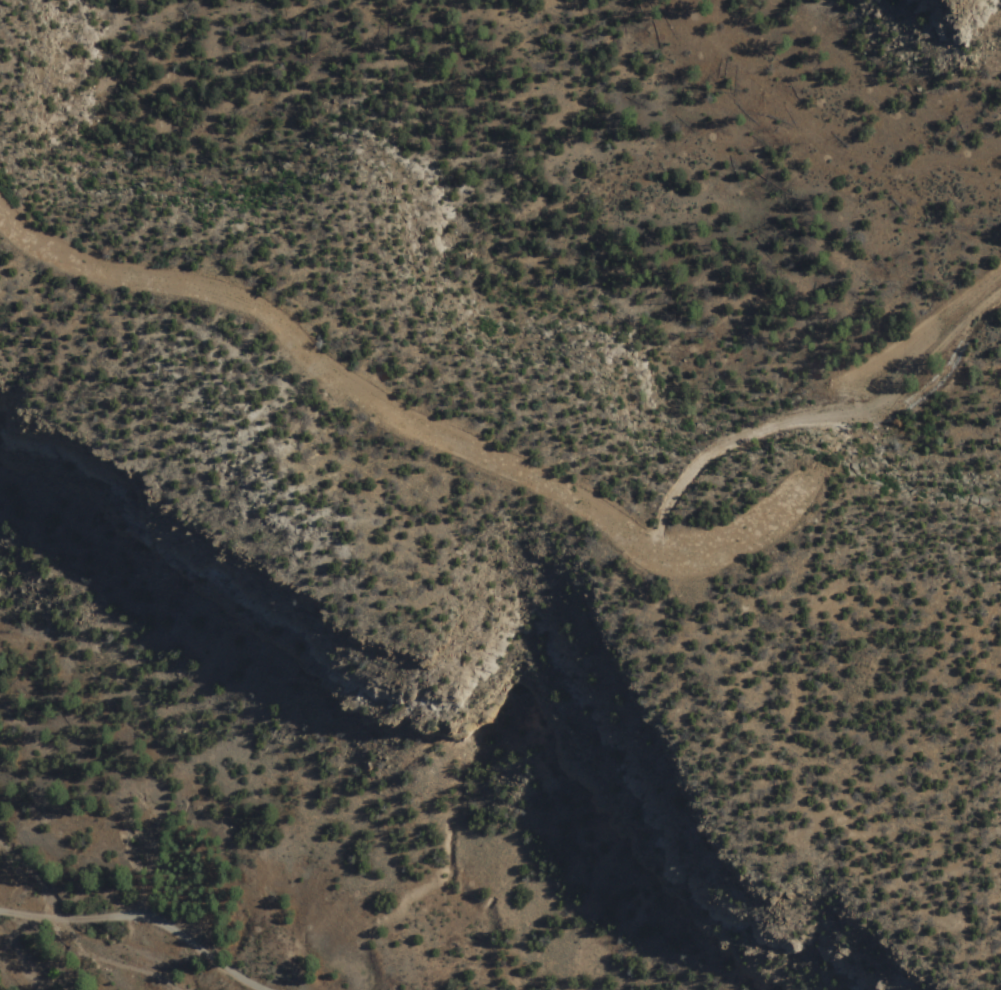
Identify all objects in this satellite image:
road: (534, 481)
road: (161, 921)

